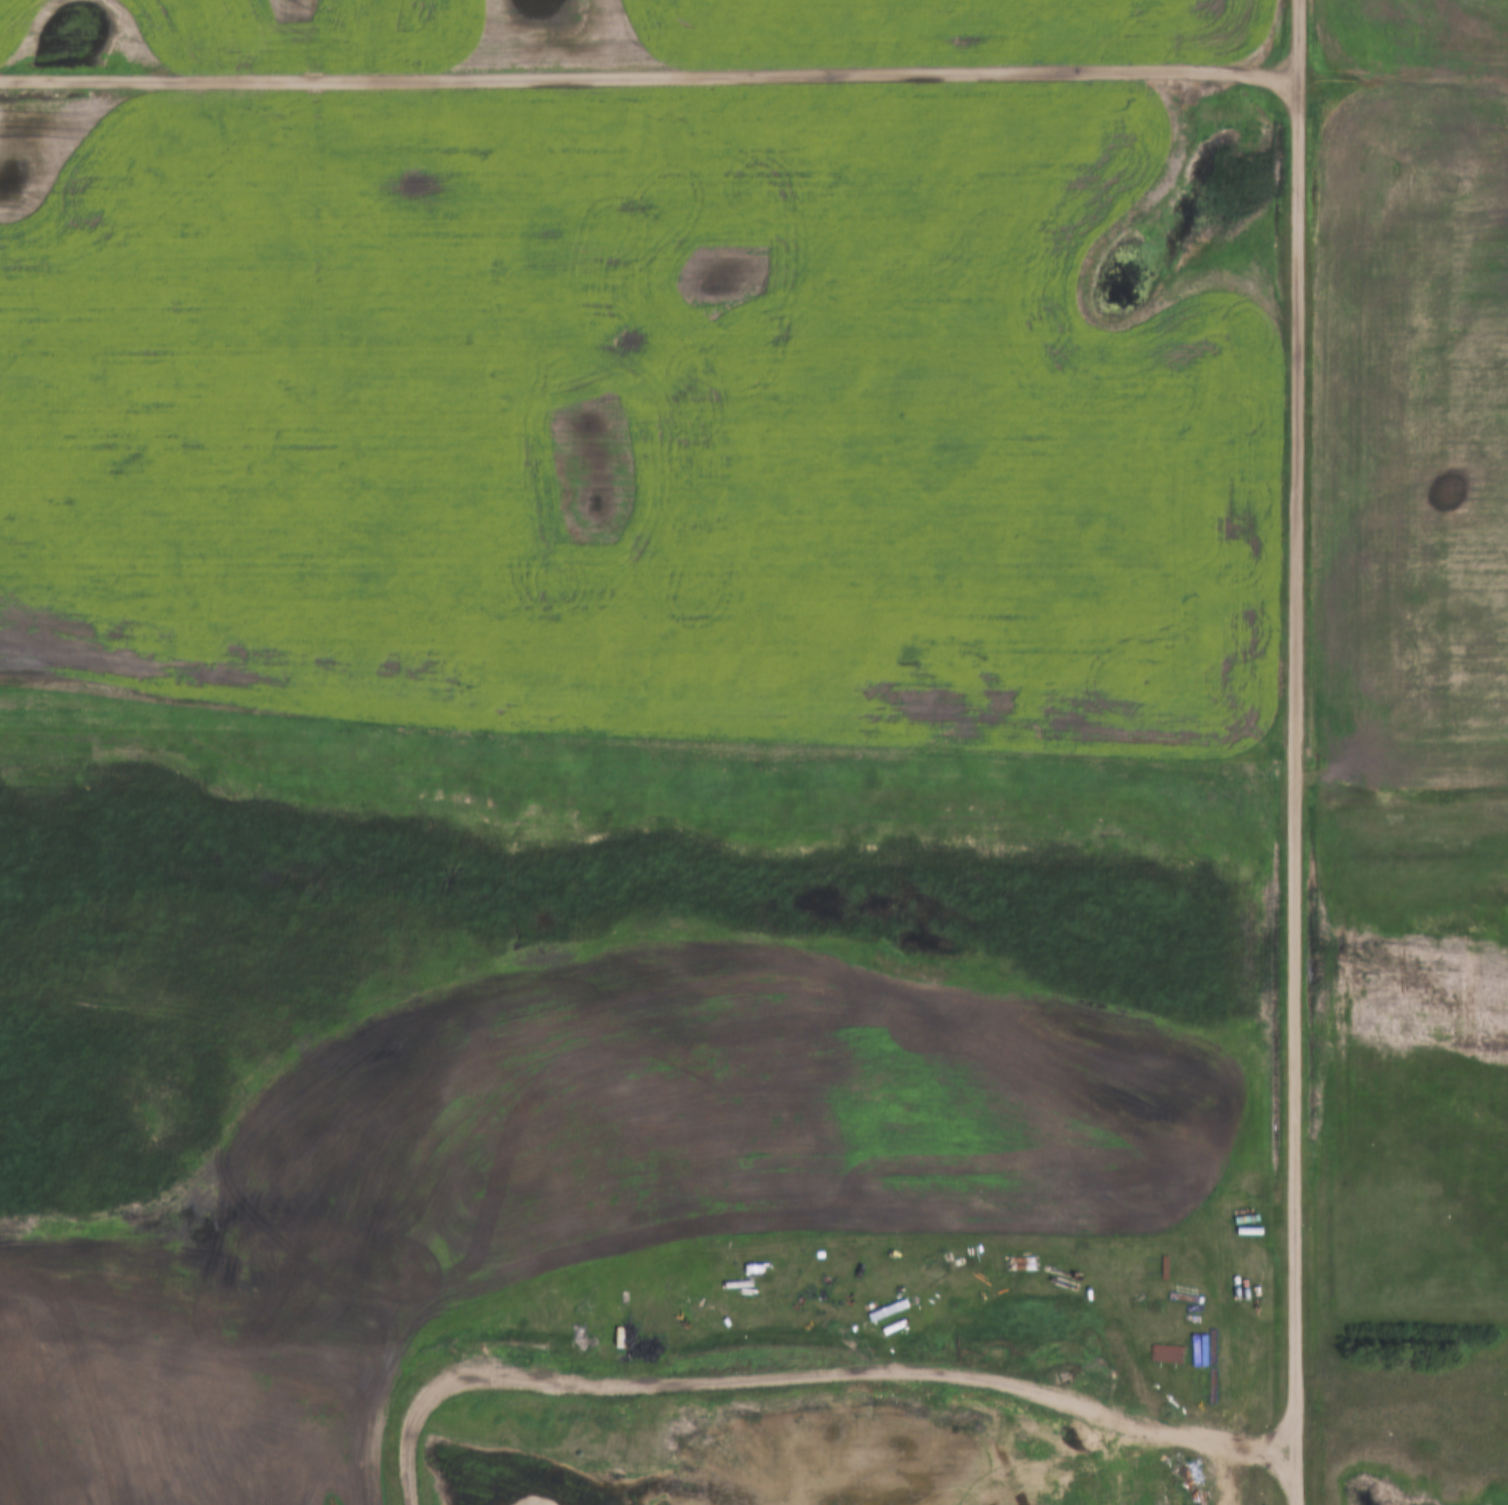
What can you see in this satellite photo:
road: (1403, 67)
road: (648, 70)
road: (1296, 752)
quarry: (849, 1456)

